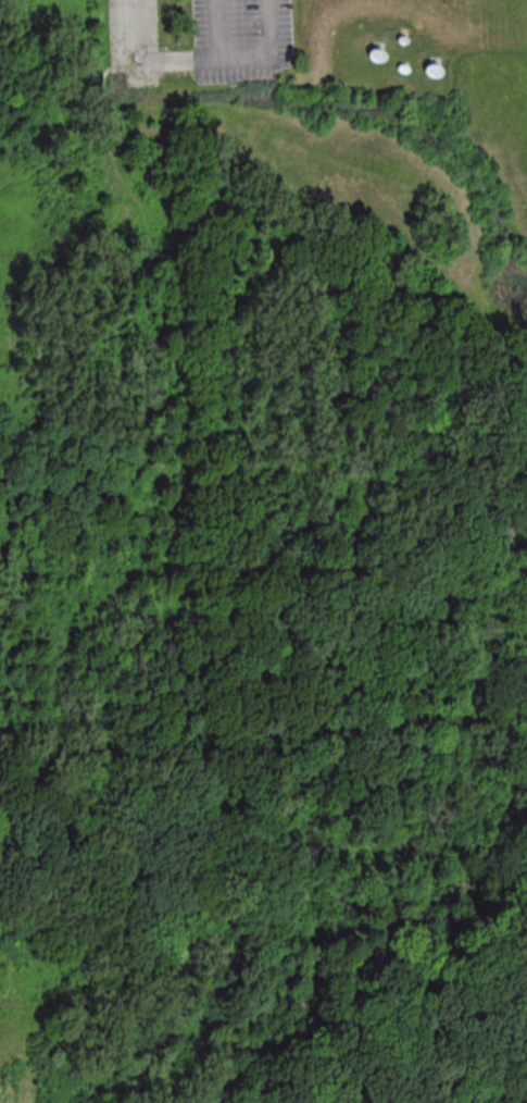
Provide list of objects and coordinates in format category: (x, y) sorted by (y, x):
road: (243, 55)
road: (150, 59)
river: (488, 604)
river: (526, 774)
river: (305, 945)

